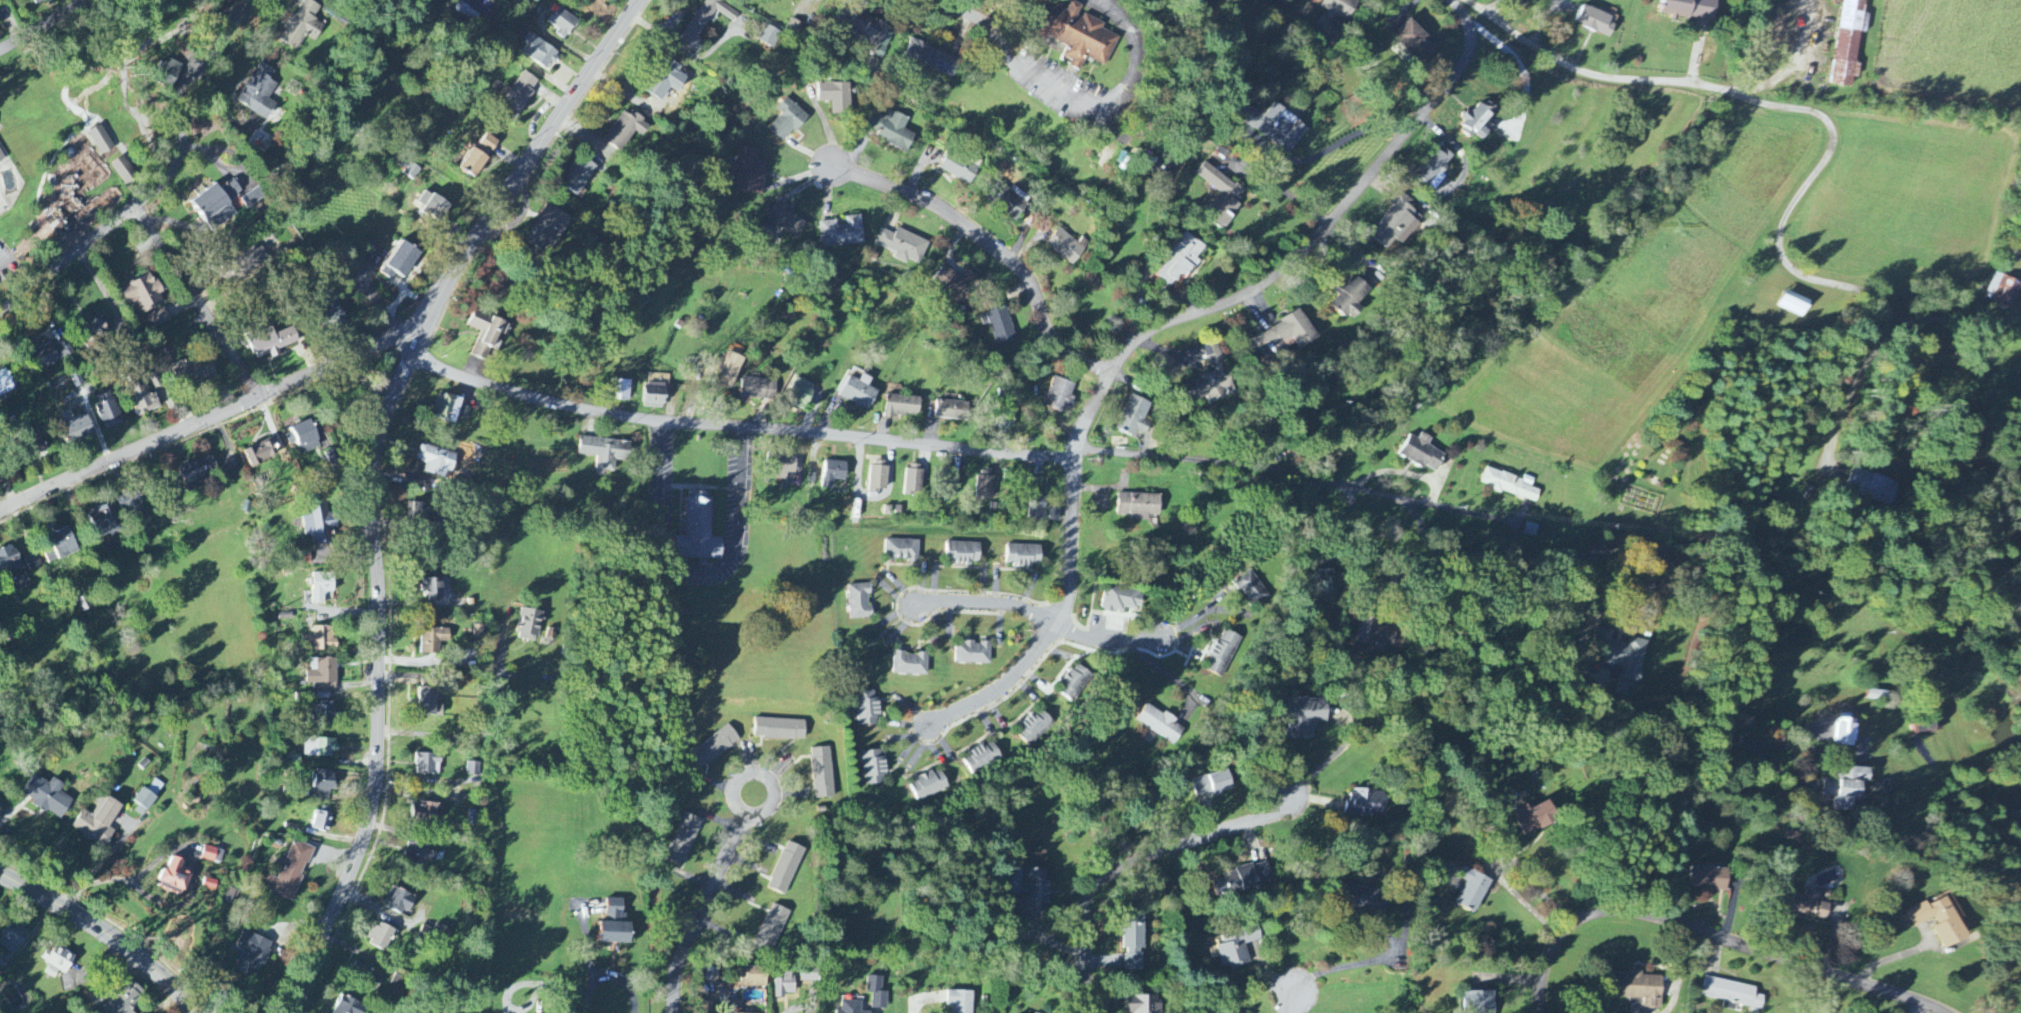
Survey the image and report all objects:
building: (612, 1)
building: (39, 2)
building: (1691, 9)
building: (1333, 19)
road: (29, 21)
road: (956, 21)
building: (1596, 21)
building: (562, 22)
building: (705, 23)
building: (302, 26)
building: (794, 28)
building: (871, 30)
building: (769, 37)
building: (1080, 37)
building: (1850, 42)
building: (1416, 43)
building: (539, 53)
building: (930, 59)
road: (1794, 61)
building: (167, 75)
building: (667, 83)
road: (1073, 90)
building: (259, 93)
building: (519, 97)
building: (835, 98)
road: (186, 104)
road: (1779, 106)
park: (88, 119)
building: (787, 121)
building: (1477, 122)
building: (1279, 128)
building: (625, 131)
building: (893, 132)
building: (101, 141)
road: (1336, 144)
building: (488, 145)
building: (1, 158)
building: (474, 165)
building: (1434, 168)
building: (410, 170)
building: (958, 170)
building: (124, 172)
building: (750, 173)
building: (578, 177)
road: (1289, 195)
building: (1221, 197)
building: (1008, 201)
building: (217, 206)
building: (434, 208)
building: (786, 221)
building: (1396, 223)
building: (49, 230)
building: (548, 230)
building: (842, 233)
building: (902, 245)
road: (992, 245)
building: (1066, 247)
road: (1299, 252)
road: (68, 259)
building: (252, 260)
building: (404, 260)
building: (1181, 260)
building: (388, 273)
road: (1984, 281)
building: (957, 286)
building: (2004, 291)
building: (143, 294)
building: (1350, 299)
road: (199, 302)
building: (1795, 305)
building: (335, 315)
building: (158, 319)
road: (1934, 320)
building: (1001, 327)
building: (93, 331)
building: (487, 334)
building: (1281, 338)
building: (271, 343)
road: (393, 344)
building: (48, 356)
building: (728, 370)
building: (196, 372)
building: (1213, 375)
building: (155, 380)
road: (1856, 383)
building: (6, 384)
building: (759, 390)
building: (620, 391)
building: (859, 393)
building: (802, 395)
building: (1059, 396)
building: (654, 397)
building: (143, 399)
building: (903, 406)
building: (447, 408)
building: (951, 411)
building: (108, 412)
building: (464, 413)
building: (1134, 418)
building: (1005, 420)
road: (737, 429)
building: (77, 430)
building: (35, 444)
building: (605, 452)
building: (1422, 452)
building: (261, 453)
building: (438, 462)
building: (783, 467)
building: (198, 474)
building: (833, 474)
road: (1296, 474)
building: (879, 477)
building: (914, 480)
building: (1511, 485)
building: (985, 486)
building: (1872, 486)
building: (131, 502)
building: (1139, 506)
building: (1037, 510)
building: (418, 513)
building: (106, 524)
building: (319, 524)
building: (700, 531)
building: (62, 545)
building: (902, 550)
building: (963, 553)
road: (1599, 555)
building: (1023, 556)
building: (31, 563)
building: (12, 569)
road: (694, 573)
road: (1365, 580)
building: (321, 587)
building: (433, 589)
building: (1251, 589)
building: (1328, 590)
building: (1120, 599)
building: (860, 602)
road: (1041, 617)
road: (1054, 618)
building: (529, 625)
building: (478, 632)
building: (1376, 635)
building: (321, 640)
building: (433, 640)
building: (974, 653)
building: (1223, 653)
building: (1627, 657)
building: (912, 664)
building: (322, 675)
road: (378, 676)
building: (1074, 683)
building: (431, 702)
road: (1495, 706)
building: (868, 709)
building: (325, 714)
building: (1306, 717)
building: (1926, 723)
building: (1161, 725)
building: (1034, 727)
building: (780, 729)
building: (1846, 732)
road: (484, 735)
road: (1788, 745)
building: (714, 747)
building: (319, 748)
building: (982, 757)
building: (428, 764)
building: (874, 767)
road: (1776, 768)
building: (473, 769)
building: (822, 773)
road: (760, 774)
building: (324, 782)
building: (1213, 784)
building: (929, 785)
building: (1847, 787)
building: (155, 788)
building: (195, 795)
building: (48, 796)
building: (145, 799)
building: (1366, 803)
building: (427, 814)
building: (1536, 818)
building: (98, 821)
building: (321, 822)
building: (683, 840)
building: (420, 851)
building: (212, 855)
road: (1129, 861)
building: (786, 869)
road: (1523, 871)
building: (289, 873)
building: (175, 875)
building: (1244, 880)
building: (209, 885)
building: (170, 889)
building: (1473, 890)
building: (1035, 894)
building: (400, 901)
building: (1372, 901)
building: (1811, 905)
road: (379, 907)
road: (701, 912)
building: (1940, 921)
building: (615, 925)
building: (771, 931)
building: (437, 933)
road: (106, 934)
road: (1712, 934)
building: (13, 936)
building: (381, 937)
building: (1133, 942)
building: (1237, 948)
building: (252, 954)
building: (58, 961)
road: (1344, 968)
building: (809, 974)
building: (367, 976)
road: (610, 976)
building: (754, 977)
building: (398, 982)
building: (784, 986)
building: (1642, 989)
building: (877, 993)
building: (1732, 993)
building: (124, 998)
building: (960, 1002)
building: (1480, 1002)
building: (1143, 1004)
road: (1290, 1004)
building: (349, 1006)
building: (851, 1007)
road: (798, 1008)

